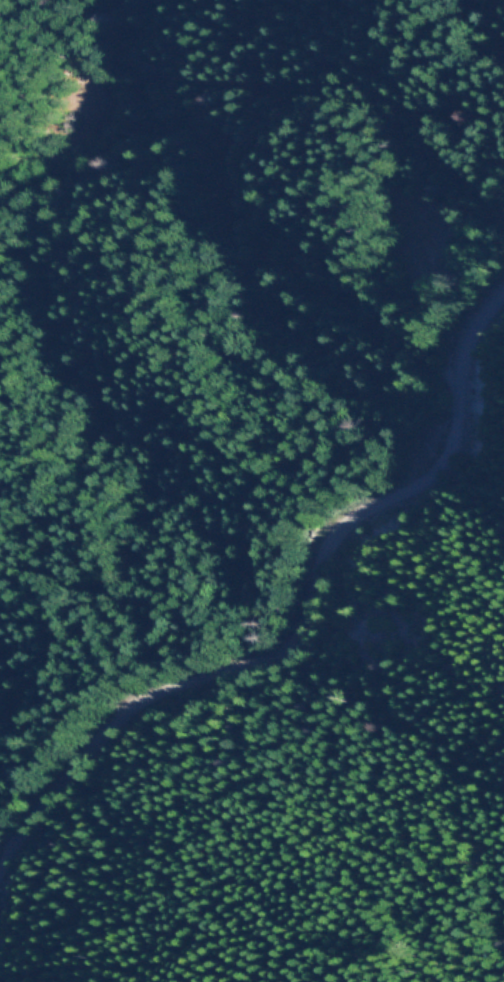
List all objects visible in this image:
road: (308, 614)

